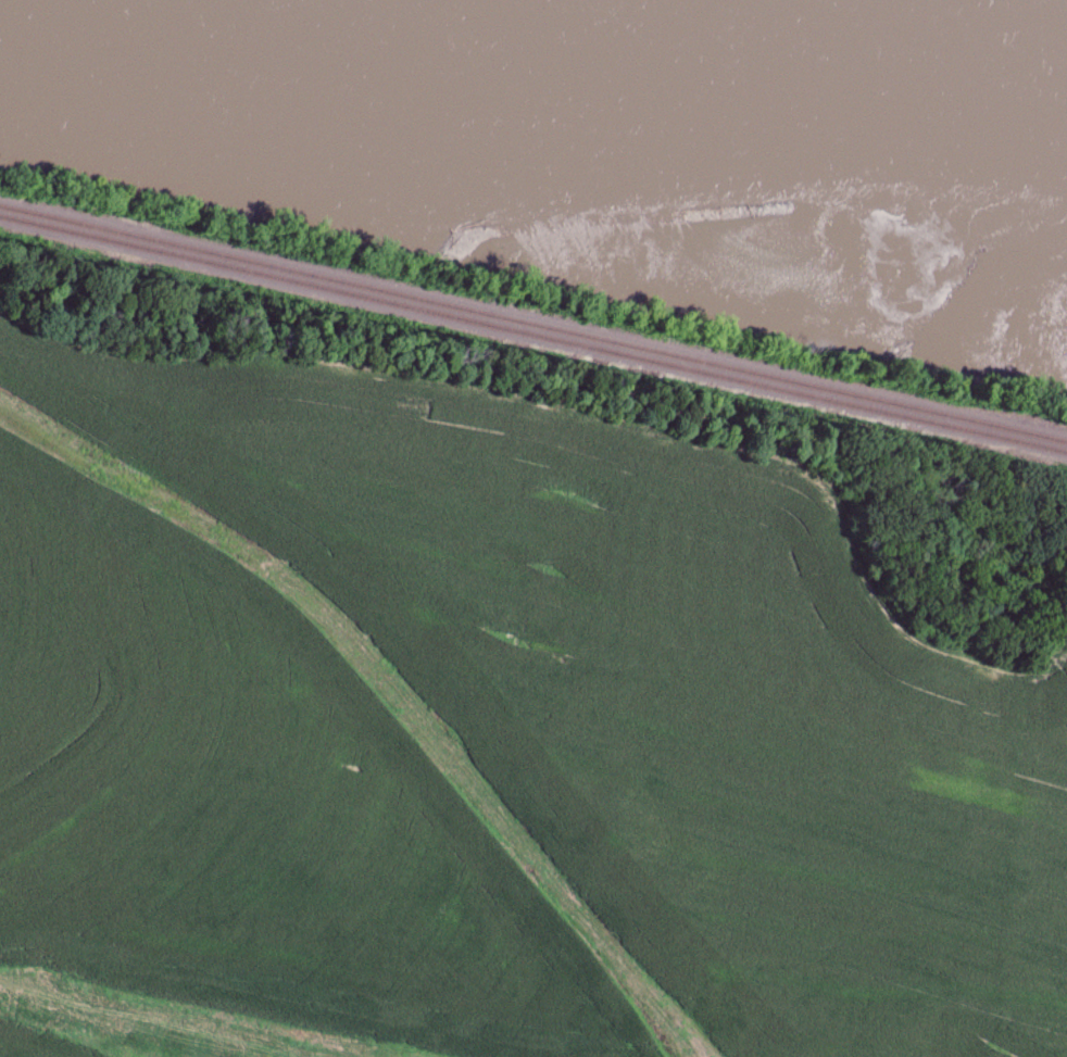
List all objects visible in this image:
railway: (532, 324)
railway: (533, 335)

